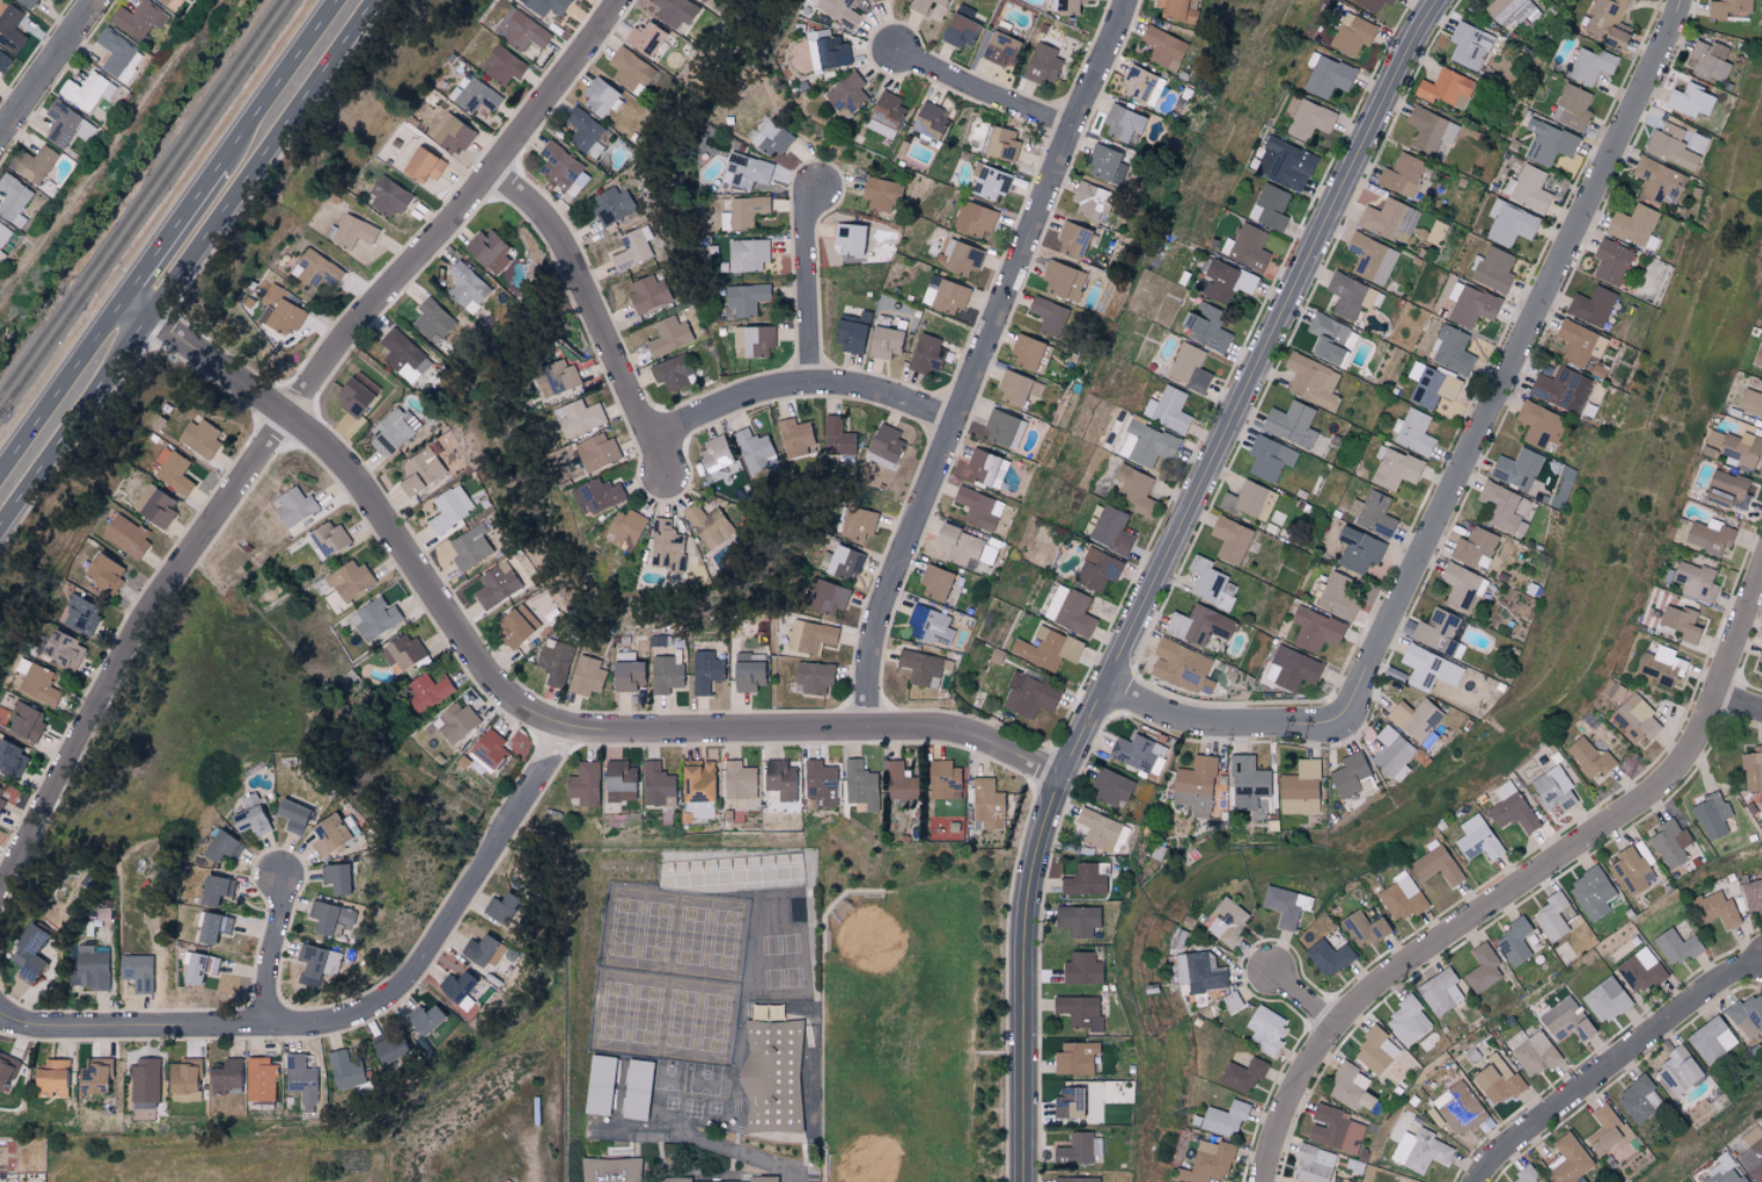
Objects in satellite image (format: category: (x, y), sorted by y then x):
building: (51, 0)
building: (703, 0)
building: (871, 0)
building: (163, 1)
building: (26, 2)
building: (545, 5)
building: (923, 5)
building: (1372, 5)
building: (1069, 6)
building: (1174, 8)
building: (1727, 8)
building: (674, 11)
building: (839, 11)
building: (1510, 11)
building: (138, 19)
building: (1606, 23)
building: (11, 29)
building: (520, 30)
building: (959, 31)
building: (1350, 35)
building: (643, 38)
building: (1469, 45)
building: (1163, 48)
building: (999, 49)
building: (830, 52)
building: (118, 55)
building: (5, 61)
building: (1710, 61)
building: (1041, 64)
road: (47, 66)
building: (501, 66)
building: (1590, 66)
building: (626, 68)
building: (1327, 75)
road: (279, 85)
building: (1142, 86)
building: (1446, 88)
building: (87, 92)
road: (984, 92)
building: (846, 94)
building: (474, 95)
building: (598, 98)
building: (1689, 100)
building: (1572, 107)
building: (884, 113)
building: (1306, 118)
building: (929, 120)
building: (1121, 123)
building: (61, 124)
building: (582, 129)
building: (1429, 130)
building: (450, 134)
building: (771, 138)
building: (1547, 142)
building: (1001, 144)
building: (1676, 144)
building: (32, 163)
building: (1285, 163)
building: (1107, 165)
building: (421, 166)
building: (559, 166)
building: (746, 171)
building: (1402, 175)
building: (1658, 181)
building: (989, 182)
building: (1527, 188)
building: (879, 193)
building: (388, 197)
railway: (141, 199)
building: (13, 200)
building: (1088, 202)
building: (610, 205)
railway: (146, 206)
building: (1269, 208)
building: (743, 212)
building: (976, 219)
building: (1390, 219)
building: (1509, 223)
building: (1634, 227)
building: (350, 231)
building: (1435, 233)
building: (4, 235)
road: (172, 235)
building: (849, 240)
building: (1071, 241)
building: (631, 248)
building: (1249, 248)
building: (488, 252)
building: (749, 255)
building: (960, 258)
building: (1371, 258)
building: (1610, 261)
road: (185, 264)
building: (1491, 270)
building: (316, 271)
building: (1062, 280)
building: (1226, 281)
road: (808, 286)
building: (465, 287)
building: (647, 293)
building: (944, 296)
building: (1349, 296)
building: (744, 299)
building: (1470, 304)
building: (1591, 307)
building: (278, 311)
road: (594, 314)
building: (1045, 314)
building: (429, 320)
building: (1206, 327)
building: (849, 334)
building: (668, 336)
building: (1330, 339)
building: (756, 341)
building: (883, 342)
building: (1578, 344)
building: (1451, 349)
building: (402, 353)
building: (1026, 353)
building: (926, 355)
building: (1757, 358)
road: (1517, 359)
road: (979, 360)
building: (1188, 369)
building: (670, 372)
building: (556, 378)
building: (1311, 380)
road: (799, 386)
building: (1433, 388)
road: (62, 389)
building: (1018, 389)
building: (1560, 389)
building: (353, 397)
building: (1750, 403)
building: (1167, 409)
building: (577, 417)
road: (279, 423)
building: (1290, 423)
building: (1537, 423)
building: (1003, 429)
building: (394, 431)
building: (1412, 433)
building: (199, 437)
building: (795, 438)
building: (836, 438)
building: (1149, 444)
building: (885, 445)
building: (1736, 447)
building: (752, 450)
building: (596, 452)
building: (713, 456)
building: (1268, 458)
building: (985, 469)
building: (1393, 469)
building: (1516, 469)
building: (172, 472)
building: (420, 472)
building: (1135, 489)
building: (1725, 489)
building: (596, 496)
building: (1247, 500)
building: (295, 507)
building: (450, 508)
building: (1504, 508)
building: (156, 509)
building: (978, 509)
building: (1371, 513)
building: (857, 524)
building: (709, 525)
building: (624, 530)
building: (1112, 531)
building: (125, 536)
building: (1708, 537)
building: (328, 538)
building: (1229, 539)
building: (666, 546)
building: (958, 546)
building: (470, 547)
building: (1474, 549)
building: (1358, 550)
building: (987, 553)
building: (842, 563)
building: (1096, 570)
road: (1160, 571)
building: (103, 574)
building: (348, 581)
building: (1695, 581)
building: (934, 583)
building: (1210, 584)
building: (495, 586)
building: (1461, 586)
building: (824, 596)
building: (1337, 598)
building: (1069, 611)
building: (80, 614)
building: (375, 619)
building: (1680, 623)
building: (1198, 625)
building: (515, 626)
building: (929, 626)
building: (1315, 630)
building: (1436, 631)
building: (810, 637)
building: (62, 649)
building: (1046, 649)
building: (404, 652)
building: (996, 656)
building: (1760, 657)
building: (555, 663)
building: (1661, 667)
building: (921, 668)
building: (1291, 669)
building: (1428, 669)
building: (705, 672)
building: (748, 672)
building: (666, 675)
building: (587, 676)
building: (626, 676)
building: (814, 677)
building: (39, 685)
building: (426, 692)
building: (1614, 692)
building: (1028, 697)
road: (1739, 701)
road: (511, 703)
building: (1634, 719)
building: (1416, 720)
building: (25, 722)
building: (456, 722)
road: (1223, 725)
building: (488, 748)
building: (1139, 754)
building: (1392, 754)
building: (1588, 757)
building: (12, 759)
building: (1752, 768)
building: (1349, 774)
building: (779, 779)
building: (944, 779)
building: (617, 780)
building: (898, 781)
building: (820, 782)
building: (1247, 782)
building: (582, 784)
building: (656, 785)
building: (860, 785)
building: (740, 786)
building: (1109, 786)
building: (1194, 786)
building: (697, 788)
building: (1299, 788)
building: (1553, 788)
building: (1, 794)
building: (987, 800)
building: (1510, 809)
building: (279, 811)
building: (241, 815)
building: (1711, 815)
building: (1099, 829)
building: (319, 830)
building: (1476, 838)
building: (1670, 842)
building: (212, 844)
building: (1435, 862)
building: (326, 874)
building: (1084, 879)
road: (1522, 886)
building: (208, 887)
building: (1591, 892)
building: (1752, 895)
building: (1401, 897)
building: (1285, 905)
building: (501, 906)
building: (1715, 909)
building: (321, 915)
building: (1551, 916)
building: (1077, 920)
building: (1226, 921)
building: (205, 926)
building: (1365, 928)
building: (1514, 940)
building: (1675, 946)
road: (272, 949)
building: (478, 949)
building: (27, 952)
park: (884, 952)
building: (1328, 957)
building: (311, 963)
building: (194, 966)
building: (1482, 967)
building: (91, 969)
building: (1081, 969)
building: (1181, 969)
building: (1640, 970)
building: (138, 971)
building: (1205, 972)
building: (458, 988)
building: (1440, 991)
road: (1305, 1000)
building: (1605, 1000)
building: (1231, 1001)
building: (1078, 1010)
road: (354, 1013)
building: (1746, 1015)
park: (914, 1017)
building: (424, 1019)
building: (1408, 1020)
building: (1565, 1020)
building: (1265, 1028)
building: (1712, 1039)
park: (901, 1044)
building: (389, 1048)
building: (1375, 1050)
building: (1531, 1051)
building: (1075, 1057)
road: (1614, 1065)
building: (7, 1066)
building: (344, 1069)
building: (1677, 1071)
building: (1242, 1073)
building: (181, 1075)
building: (95, 1076)
building: (223, 1076)
building: (50, 1077)
building: (144, 1079)
building: (259, 1079)
building: (1495, 1079)
building: (302, 1081)
building: (775, 1085)
building: (1350, 1087)
building: (604, 1091)
building: (1637, 1097)
building: (639, 1099)
building: (184, 1101)
building: (1068, 1102)
building: (1458, 1107)
building: (1224, 1118)
building: (1334, 1128)
building: (1606, 1130)
park: (876, 1141)
building: (1078, 1147)
road: (728, 1150)
building: (1420, 1150)
building: (1752, 1153)
building: (1212, 1159)
building: (1568, 1159)
building: (1313, 1164)
building: (1723, 1170)
building: (613, 1172)
building: (1526, 1174)
building: (1076, 1178)

